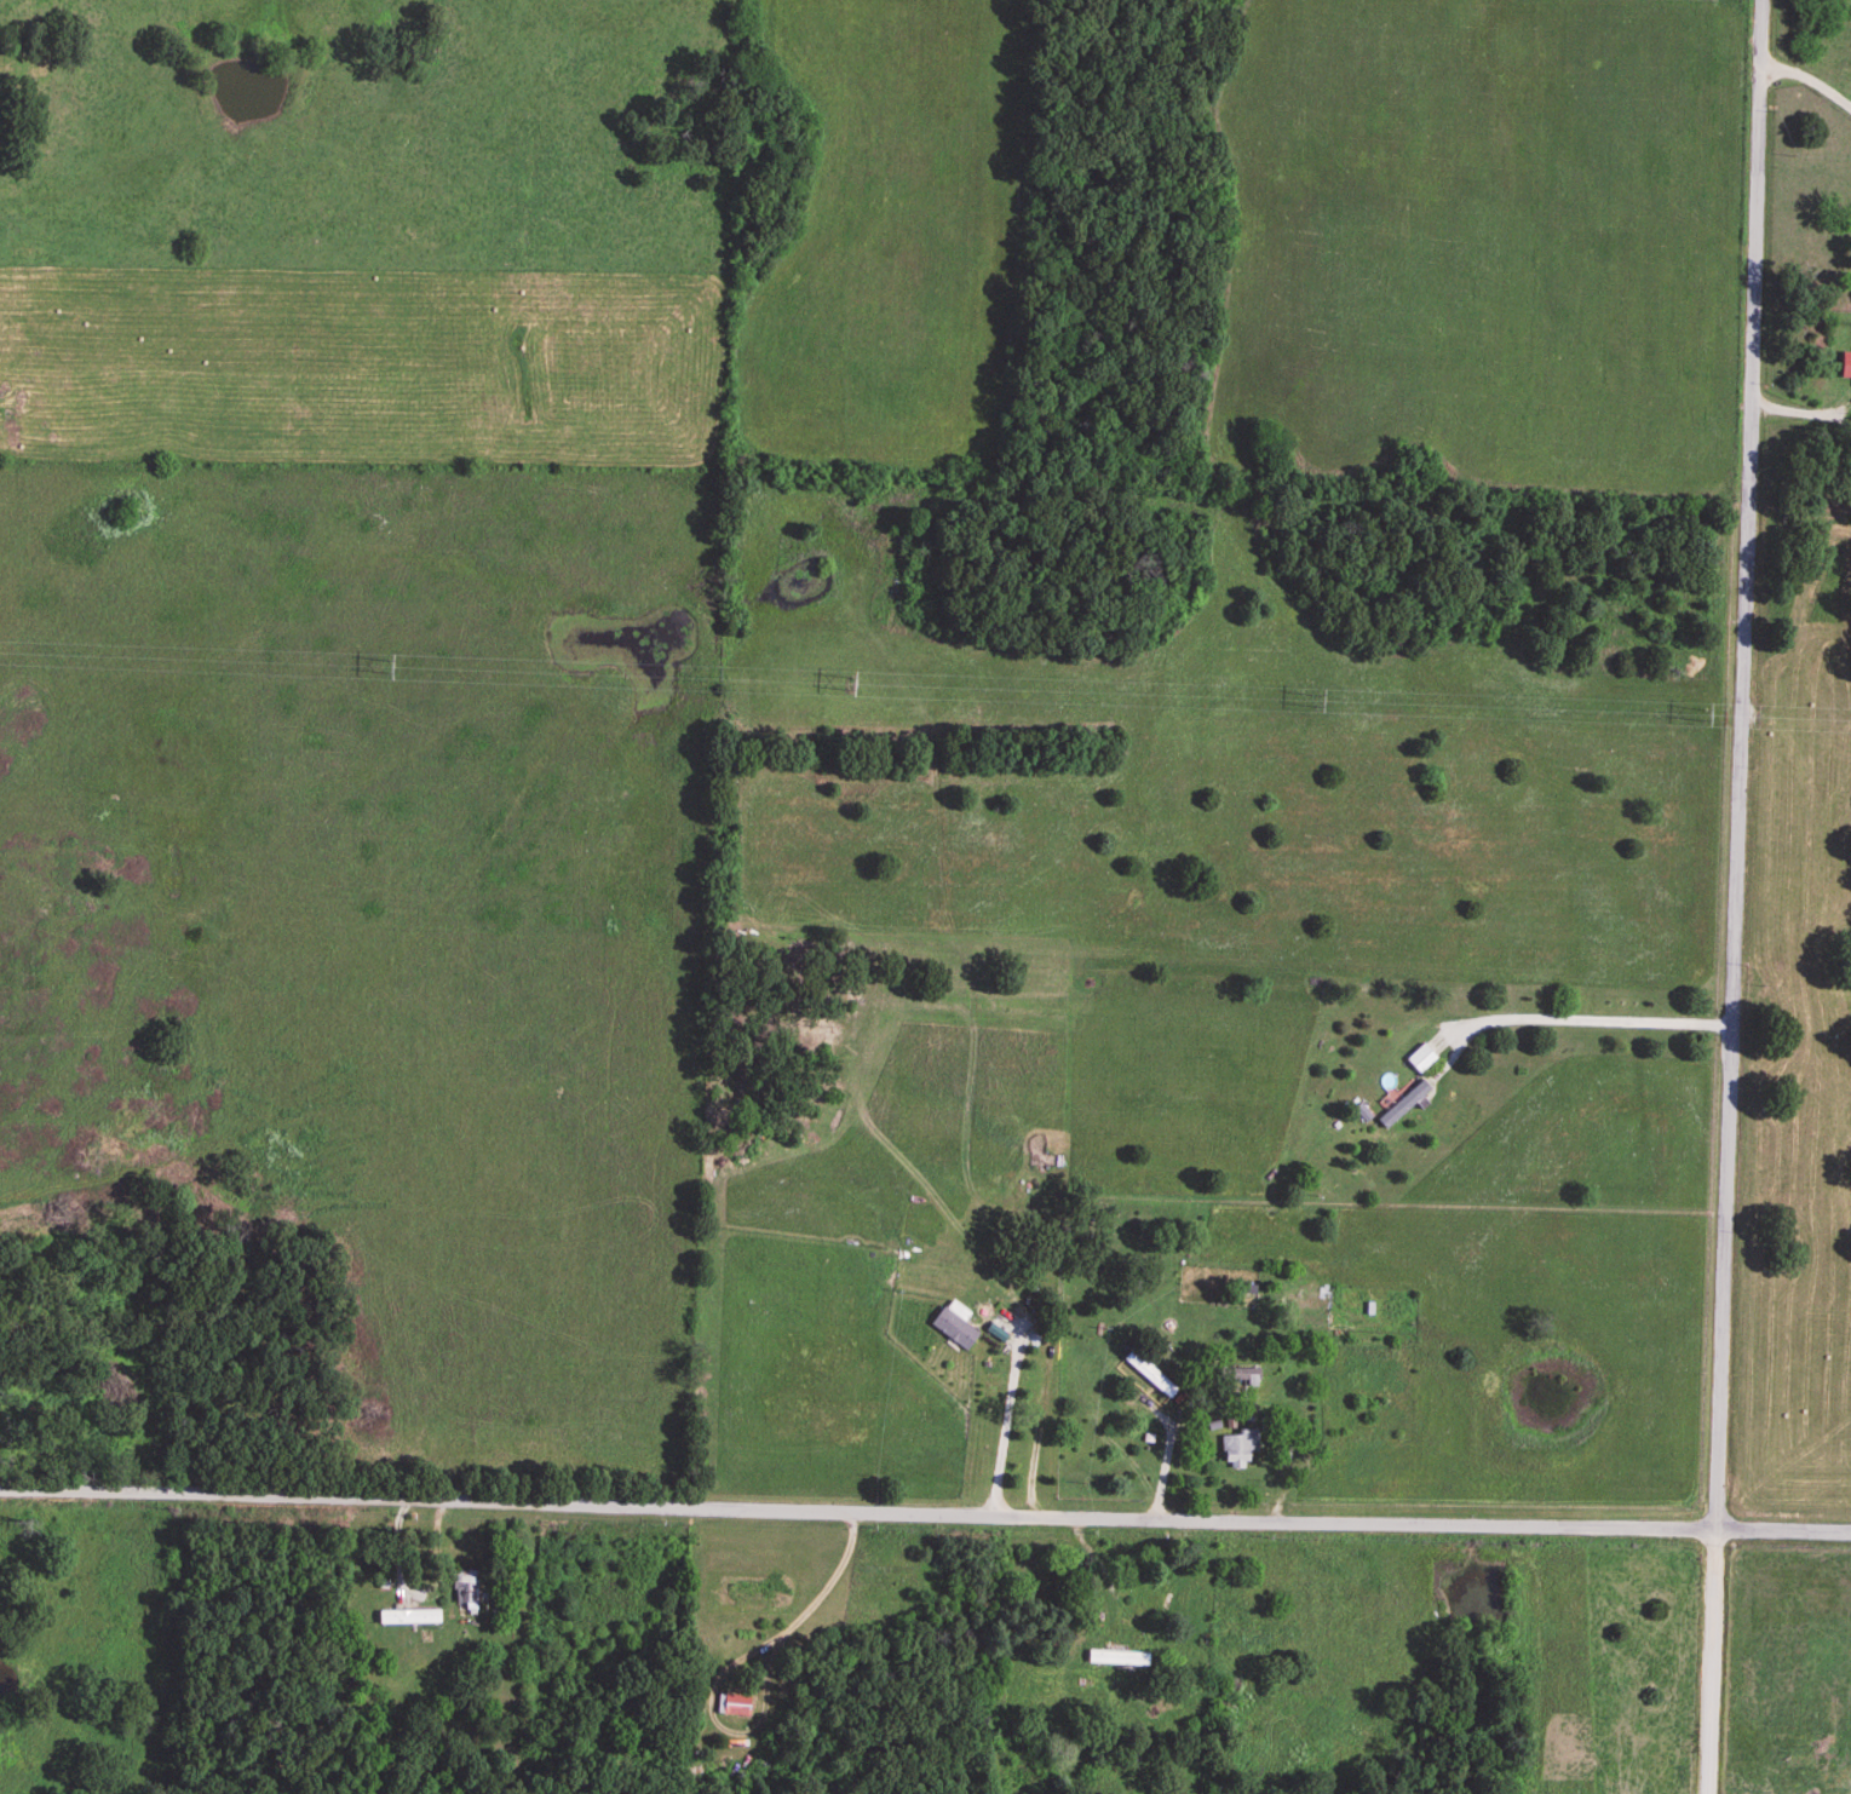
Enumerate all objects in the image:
road: (1809, 80)
building: (1847, 360)
power tower: (386, 668)
power tower: (847, 685)
power tower: (1313, 702)
power tower: (1702, 718)
road: (1737, 897)
road: (1571, 1018)
building: (1424, 1053)
building: (1407, 1099)
building: (958, 1319)
building: (1152, 1369)
road: (1007, 1414)
road: (1166, 1426)
building: (1242, 1444)
road: (925, 1512)
building: (413, 1611)

